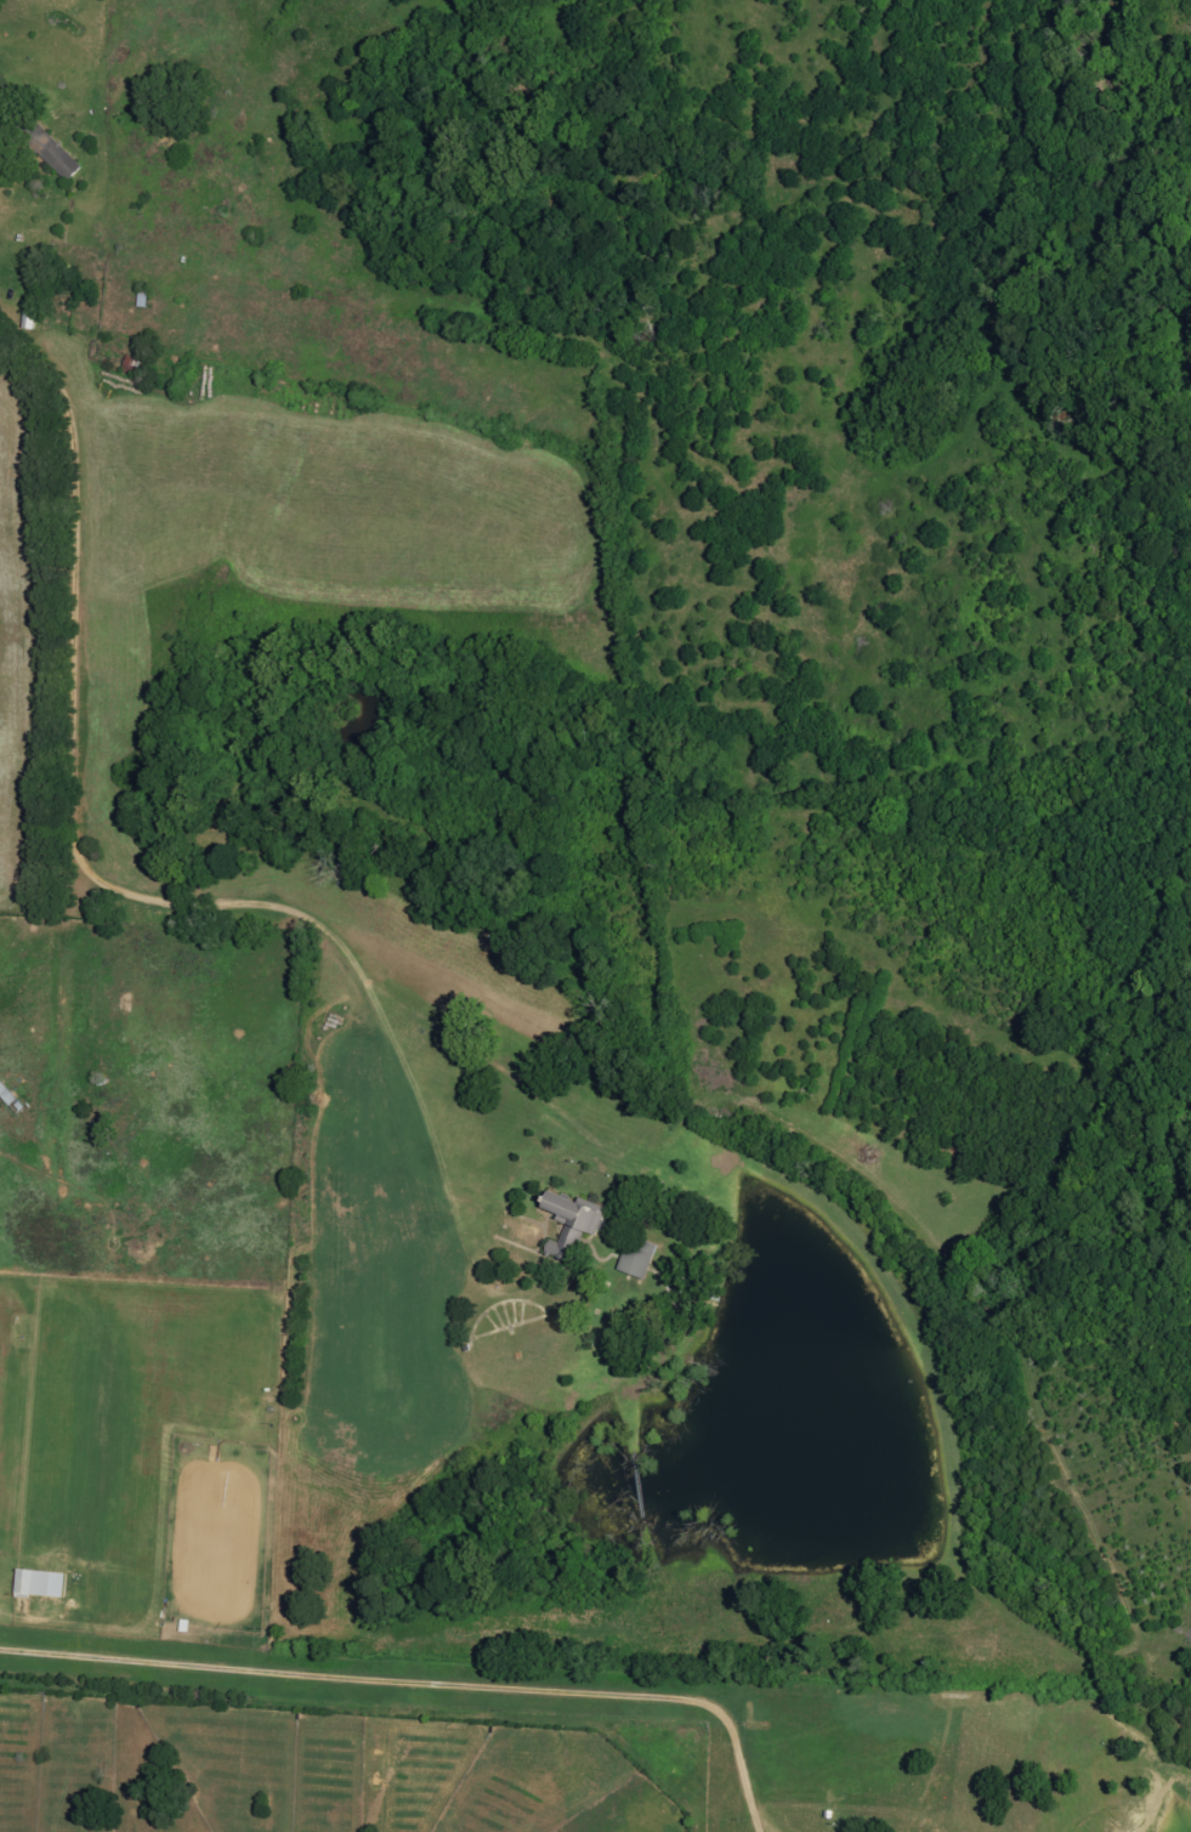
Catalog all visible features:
building: (61, 160)
building: (572, 1224)
building: (639, 1259)
building: (40, 1583)

